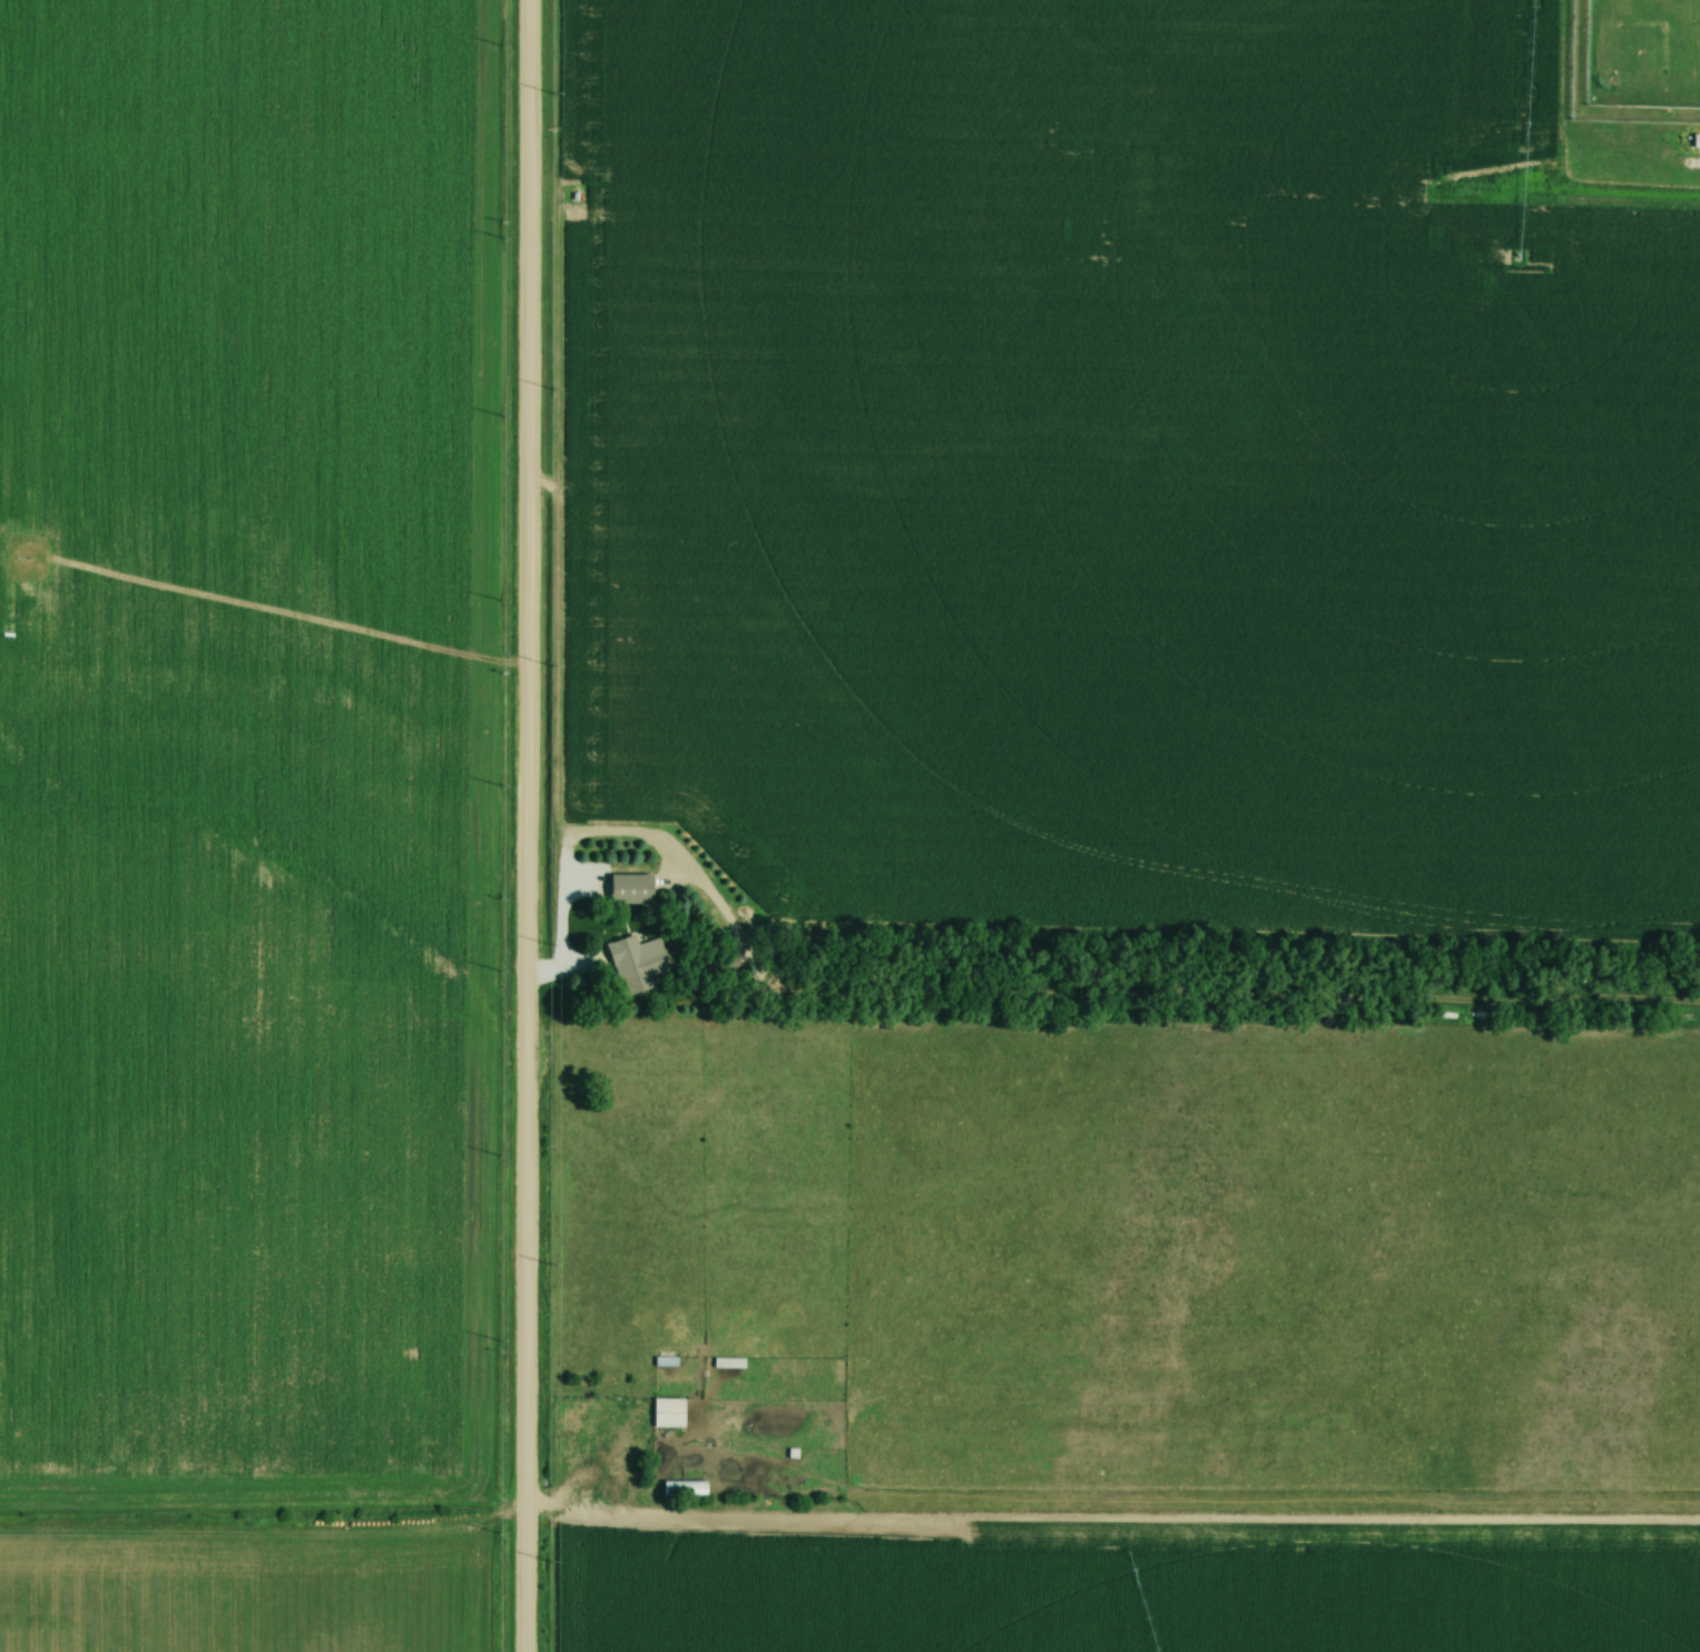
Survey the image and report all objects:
crop: (1136, 471)
crop: (247, 754)
road: (533, 825)
building: (627, 889)
building: (633, 961)
building: (726, 1363)
building: (677, 1400)
building: (665, 1413)
road: (593, 1474)
building: (680, 1488)
crop: (250, 1577)
crop: (1131, 1584)

